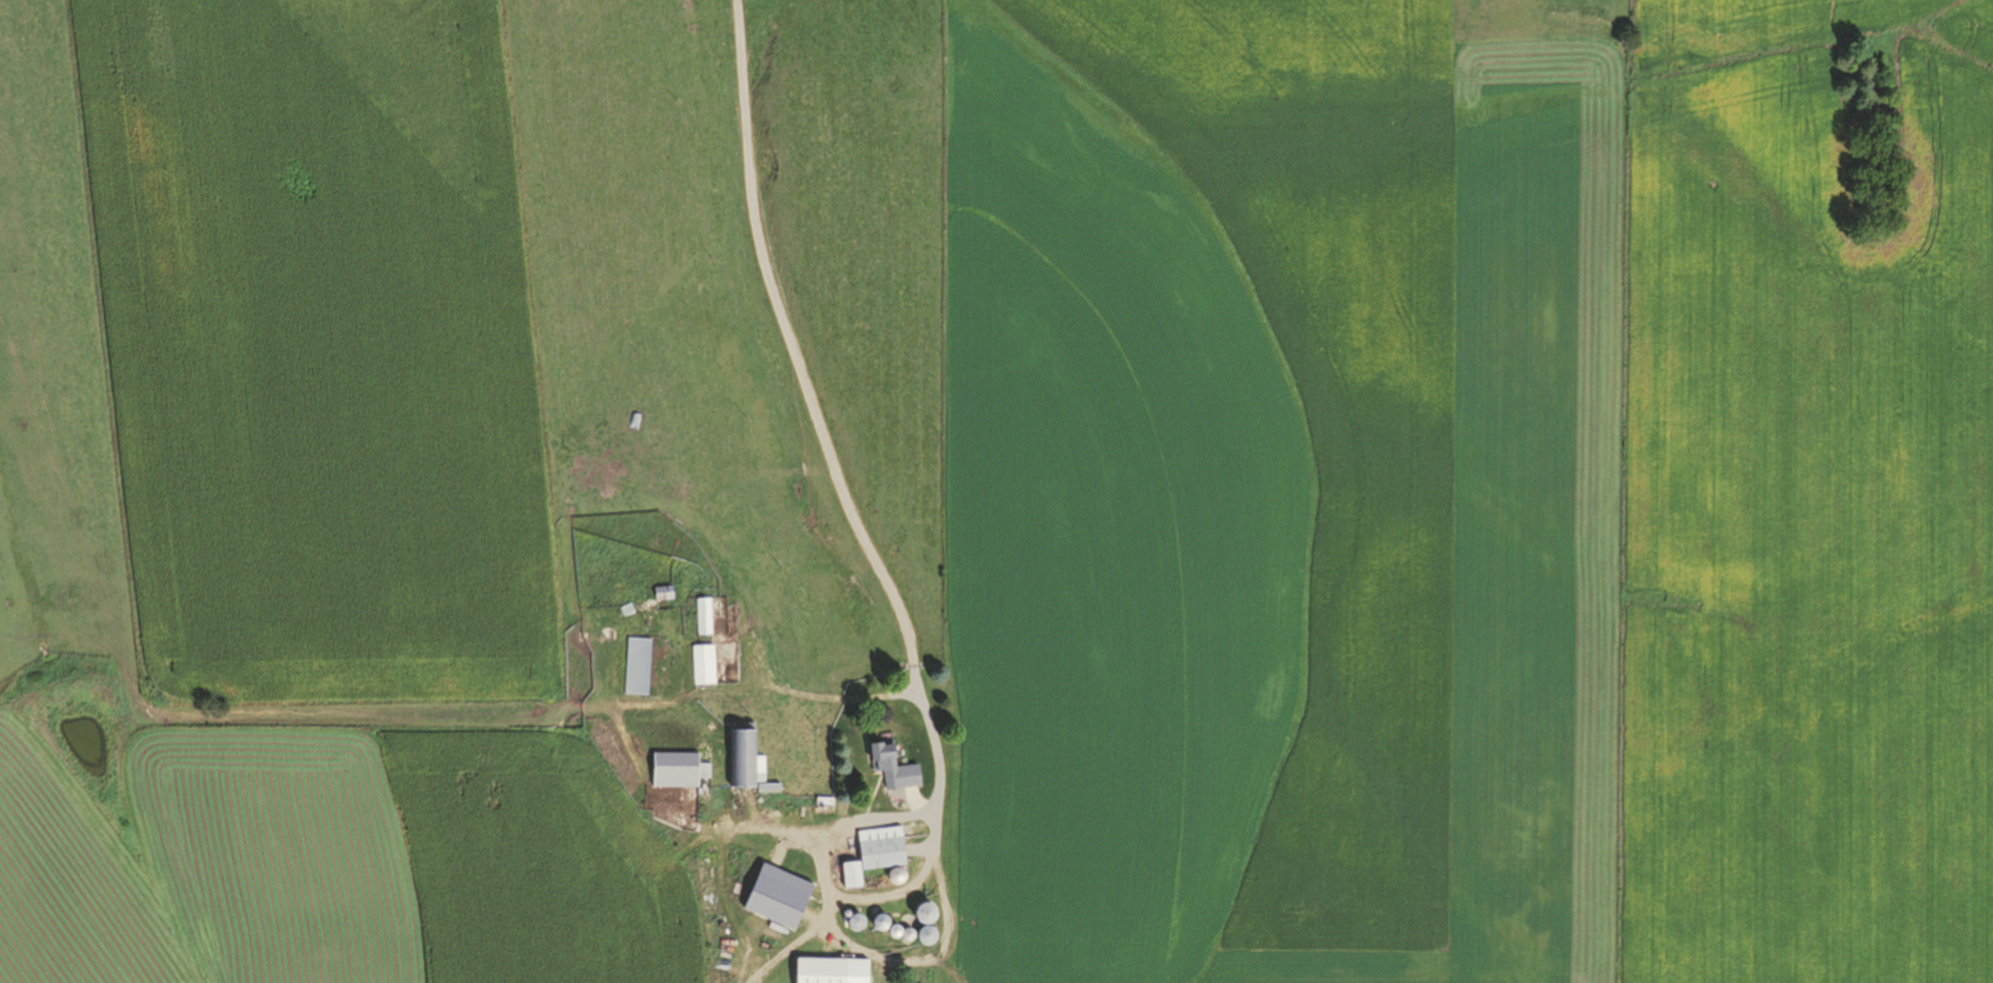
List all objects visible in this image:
road: (820, 402)
building: (660, 595)
building: (702, 617)
building: (702, 666)
building: (635, 667)
building: (880, 757)
building: (742, 760)
building: (670, 770)
building: (871, 855)
building: (773, 897)
building: (917, 914)
building: (851, 923)
building: (880, 925)
building: (827, 971)

